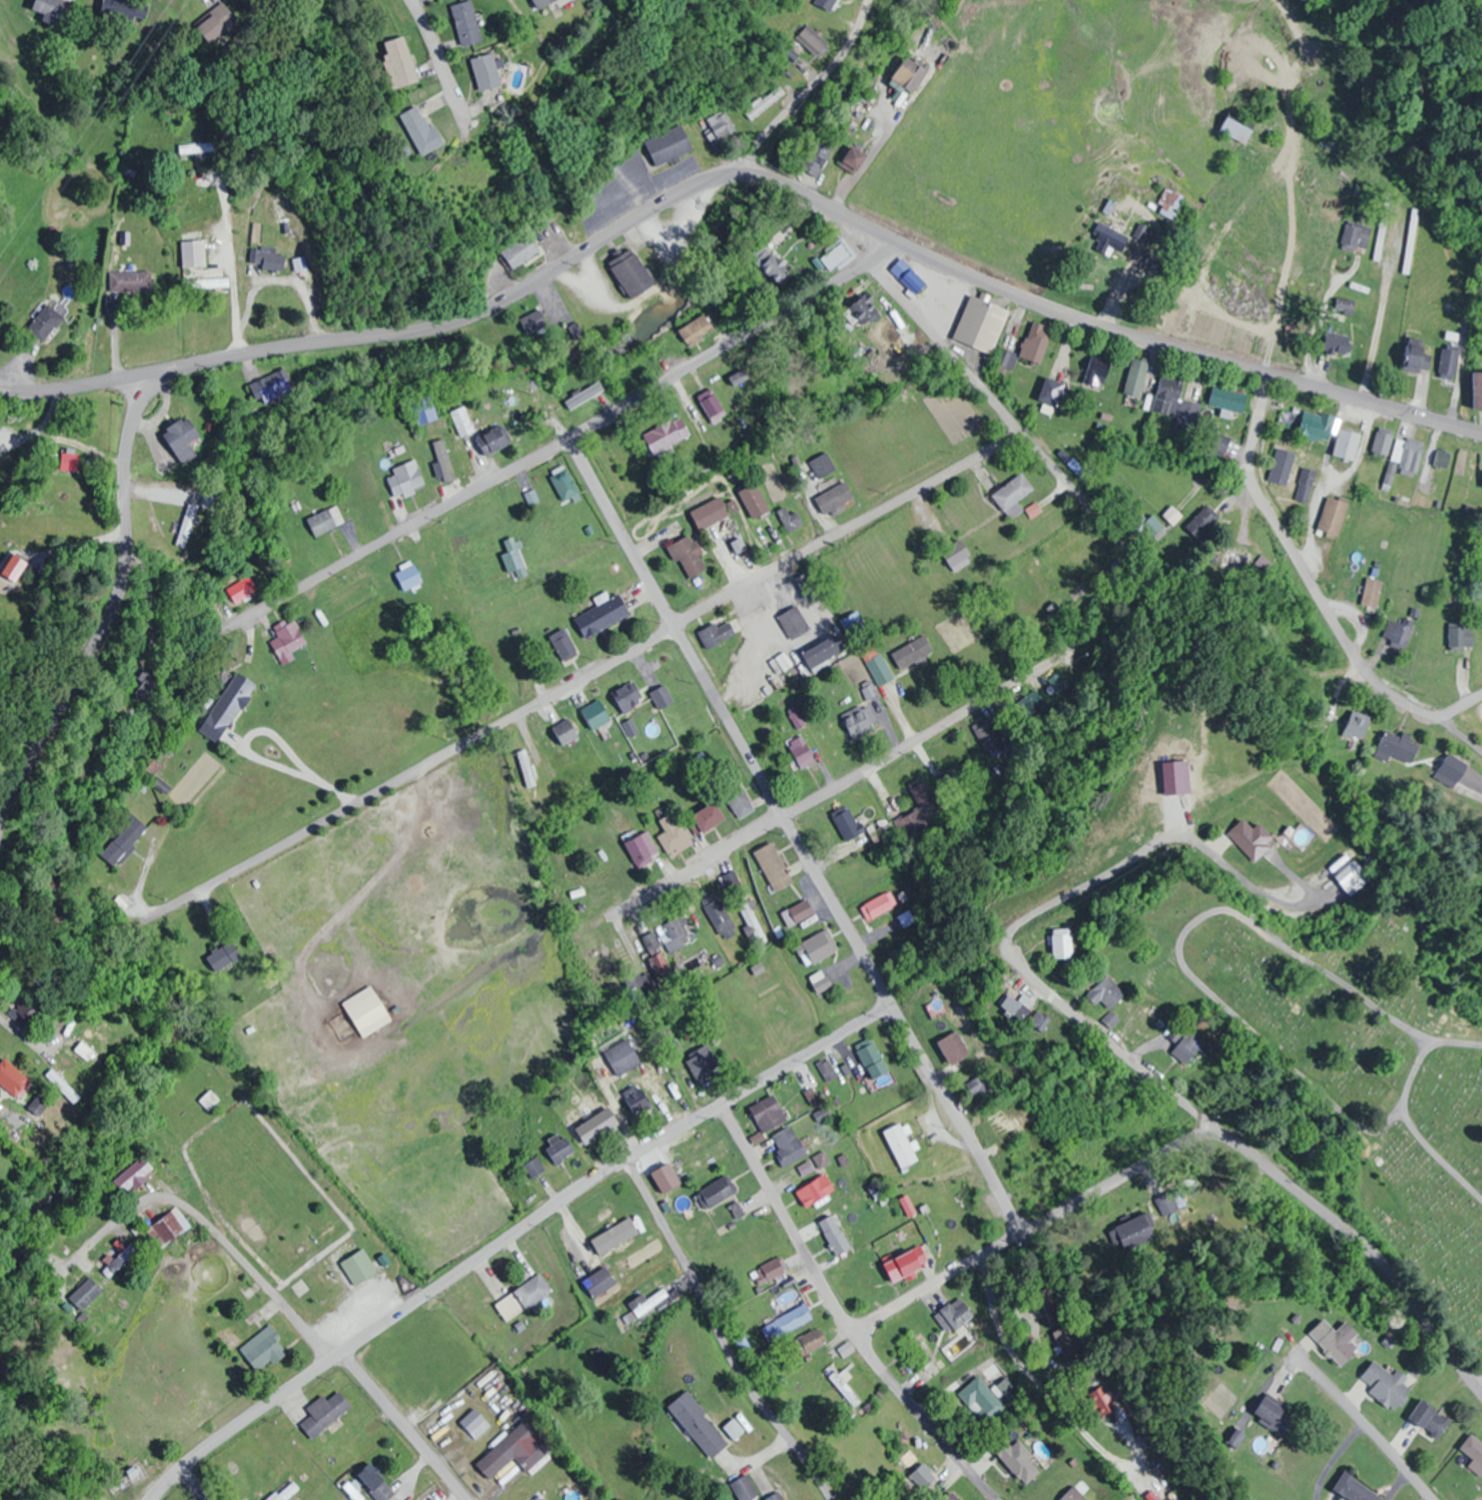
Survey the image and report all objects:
building: (540, 2)
building: (121, 7)
building: (51, 9)
building: (215, 21)
building: (466, 22)
road: (437, 59)
building: (397, 61)
building: (487, 71)
building: (910, 73)
road: (805, 92)
building: (765, 102)
building: (721, 125)
building: (421, 129)
building: (1236, 129)
building: (669, 146)
building: (198, 147)
building: (817, 152)
building: (854, 157)
building: (473, 174)
building: (1142, 232)
building: (1356, 236)
building: (1380, 241)
building: (1411, 241)
road: (592, 246)
building: (522, 251)
building: (192, 253)
building: (834, 254)
building: (267, 258)
building: (773, 273)
building: (626, 275)
building: (908, 276)
building: (131, 280)
building: (210, 282)
building: (533, 323)
building: (980, 325)
building: (695, 330)
building: (1036, 342)
building: (1338, 342)
building: (1416, 356)
building: (1006, 358)
building: (1450, 364)
building: (1097, 370)
building: (1136, 377)
building: (738, 378)
road: (83, 384)
building: (268, 387)
building: (1477, 390)
building: (587, 392)
building: (1052, 392)
building: (1229, 399)
road: (991, 400)
building: (1176, 404)
building: (712, 408)
building: (425, 413)
building: (520, 414)
building: (460, 422)
building: (1317, 426)
building: (665, 435)
building: (182, 438)
road: (561, 440)
building: (488, 443)
building: (1347, 444)
building: (1383, 444)
building: (428, 455)
building: (1407, 455)
building: (1444, 458)
building: (1282, 466)
building: (816, 470)
building: (404, 480)
building: (562, 483)
building: (1304, 484)
building: (1013, 496)
building: (834, 499)
building: (754, 501)
building: (709, 513)
building: (1172, 515)
building: (1333, 517)
building: (324, 521)
building: (792, 522)
building: (1201, 523)
building: (185, 525)
building: (1151, 527)
building: (957, 554)
building: (687, 556)
building: (1237, 557)
building: (1264, 563)
building: (13, 567)
building: (407, 575)
road: (1314, 588)
building: (243, 591)
building: (1372, 593)
building: (601, 616)
building: (794, 623)
building: (717, 634)
building: (1398, 634)
building: (1461, 636)
building: (285, 640)
building: (562, 644)
building: (824, 653)
building: (913, 653)
building: (880, 669)
road: (585, 678)
building: (147, 684)
building: (626, 696)
building: (662, 697)
building: (226, 707)
building: (596, 714)
building: (857, 722)
building: (566, 732)
building: (989, 738)
building: (1399, 749)
building: (801, 751)
building: (526, 768)
building: (1178, 777)
building: (740, 801)
building: (919, 807)
building: (708, 818)
road: (771, 824)
building: (844, 827)
building: (882, 832)
building: (673, 836)
road: (793, 836)
building: (1254, 839)
building: (123, 841)
building: (642, 849)
building: (773, 866)
building: (1353, 877)
building: (877, 907)
building: (798, 913)
building: (718, 915)
building: (752, 922)
building: (673, 934)
building: (1062, 944)
building: (819, 948)
building: (654, 954)
building: (222, 957)
building: (820, 982)
building: (1107, 993)
road: (1372, 1004)
building: (1021, 1006)
building: (367, 1011)
road: (1236, 1015)
building: (1149, 1017)
building: (1041, 1020)
building: (745, 1033)
building: (1186, 1042)
building: (954, 1048)
building: (83, 1051)
building: (622, 1057)
building: (701, 1062)
building: (874, 1062)
park: (1361, 1067)
road: (1412, 1071)
building: (13, 1079)
road: (757, 1079)
building: (981, 1085)
building: (62, 1086)
road: (1160, 1088)
building: (636, 1098)
building: (208, 1099)
building: (768, 1113)
building: (596, 1126)
building: (788, 1145)
building: (900, 1146)
building: (559, 1149)
road: (1438, 1155)
building: (534, 1167)
building: (127, 1174)
building: (815, 1190)
building: (716, 1193)
building: (1168, 1203)
road: (209, 1227)
building: (168, 1228)
road: (1030, 1228)
building: (1134, 1233)
building: (835, 1235)
building: (118, 1258)
building: (362, 1266)
building: (900, 1267)
building: (599, 1282)
building: (84, 1294)
building: (523, 1297)
building: (650, 1302)
road: (840, 1313)
building: (1052, 1313)
building: (954, 1315)
road: (382, 1321)
building: (788, 1323)
road: (719, 1333)
building: (1069, 1341)
building: (1337, 1341)
building: (264, 1349)
building: (917, 1355)
road: (1479, 1384)
building: (845, 1385)
building: (1387, 1385)
building: (981, 1400)
building: (325, 1412)
building: (1279, 1418)
building: (1431, 1419)
building: (474, 1422)
road: (1364, 1424)
road: (404, 1425)
building: (699, 1425)
building: (734, 1429)
building: (1474, 1449)
building: (515, 1450)
building: (135, 1474)
building: (922, 1476)
building: (376, 1482)
road: (196, 1483)
building: (745, 1487)
building: (1355, 1489)
building: (284, 1491)
building: (354, 1491)
building: (1074, 1495)
building: (775, 1496)

